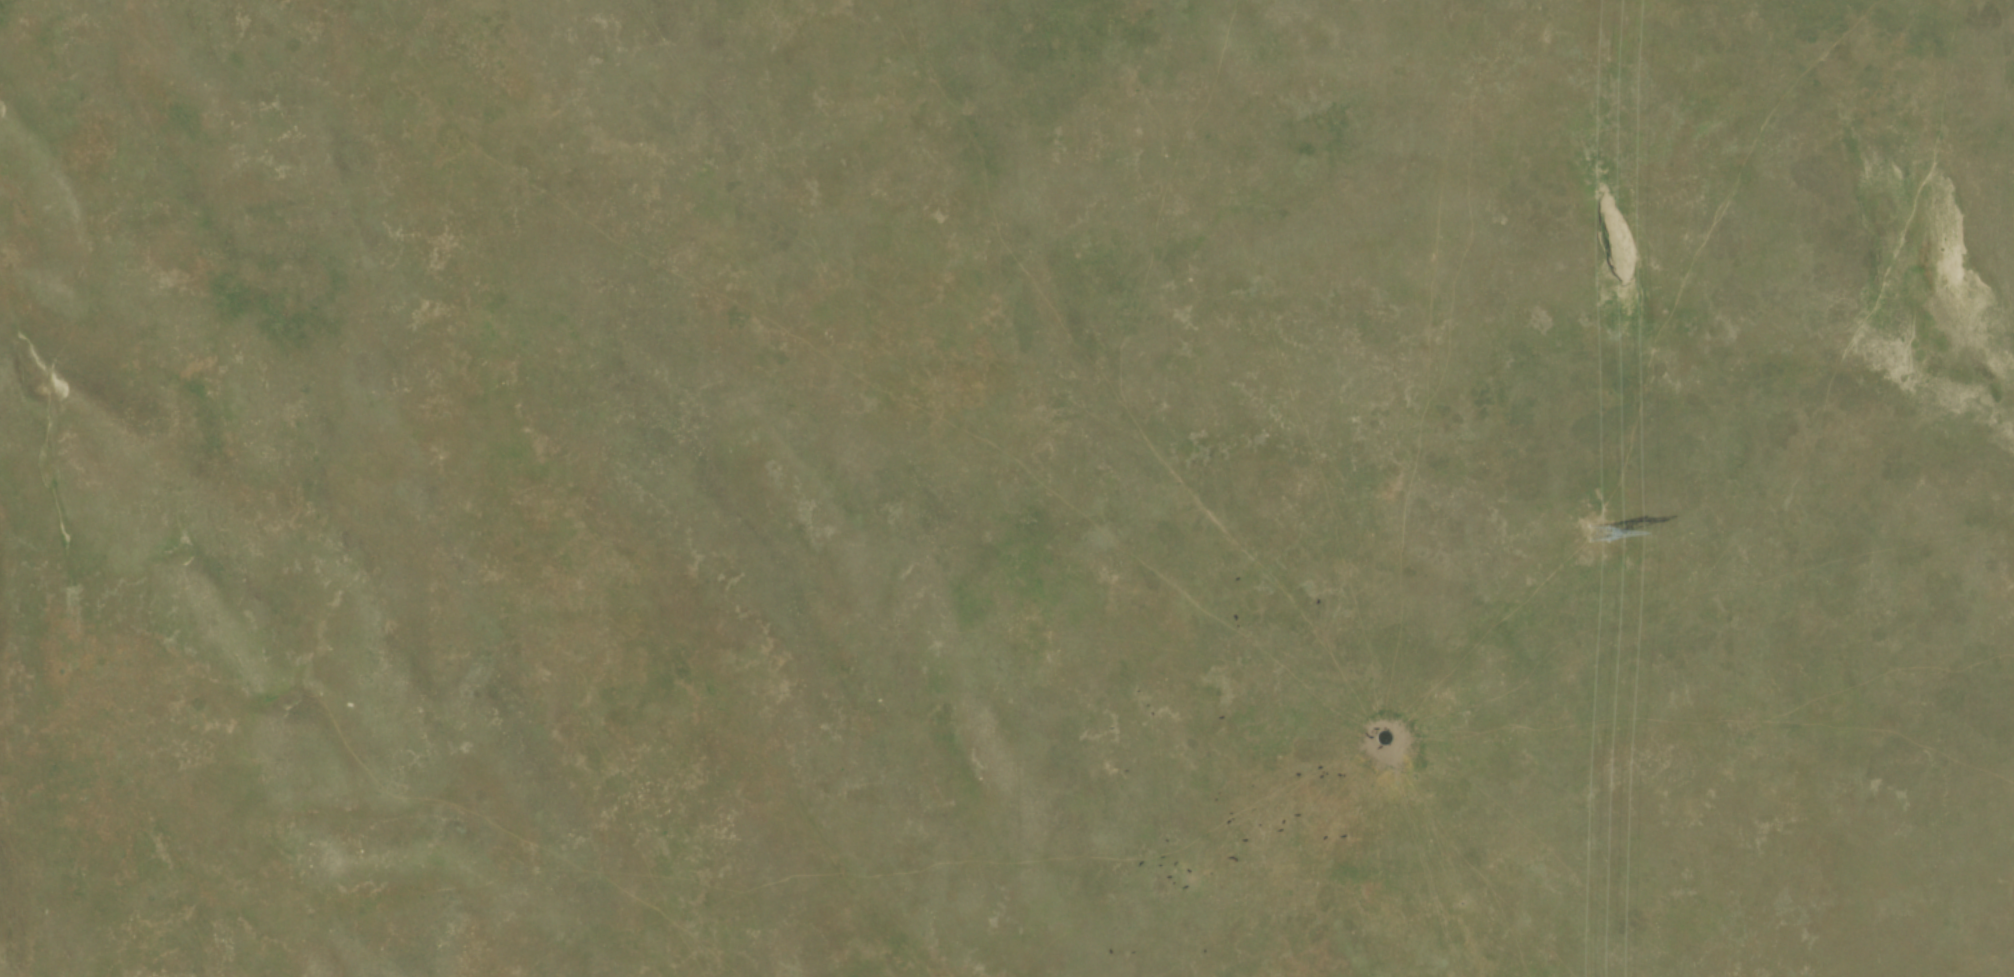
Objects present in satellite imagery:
power tower: (1599, 535)

